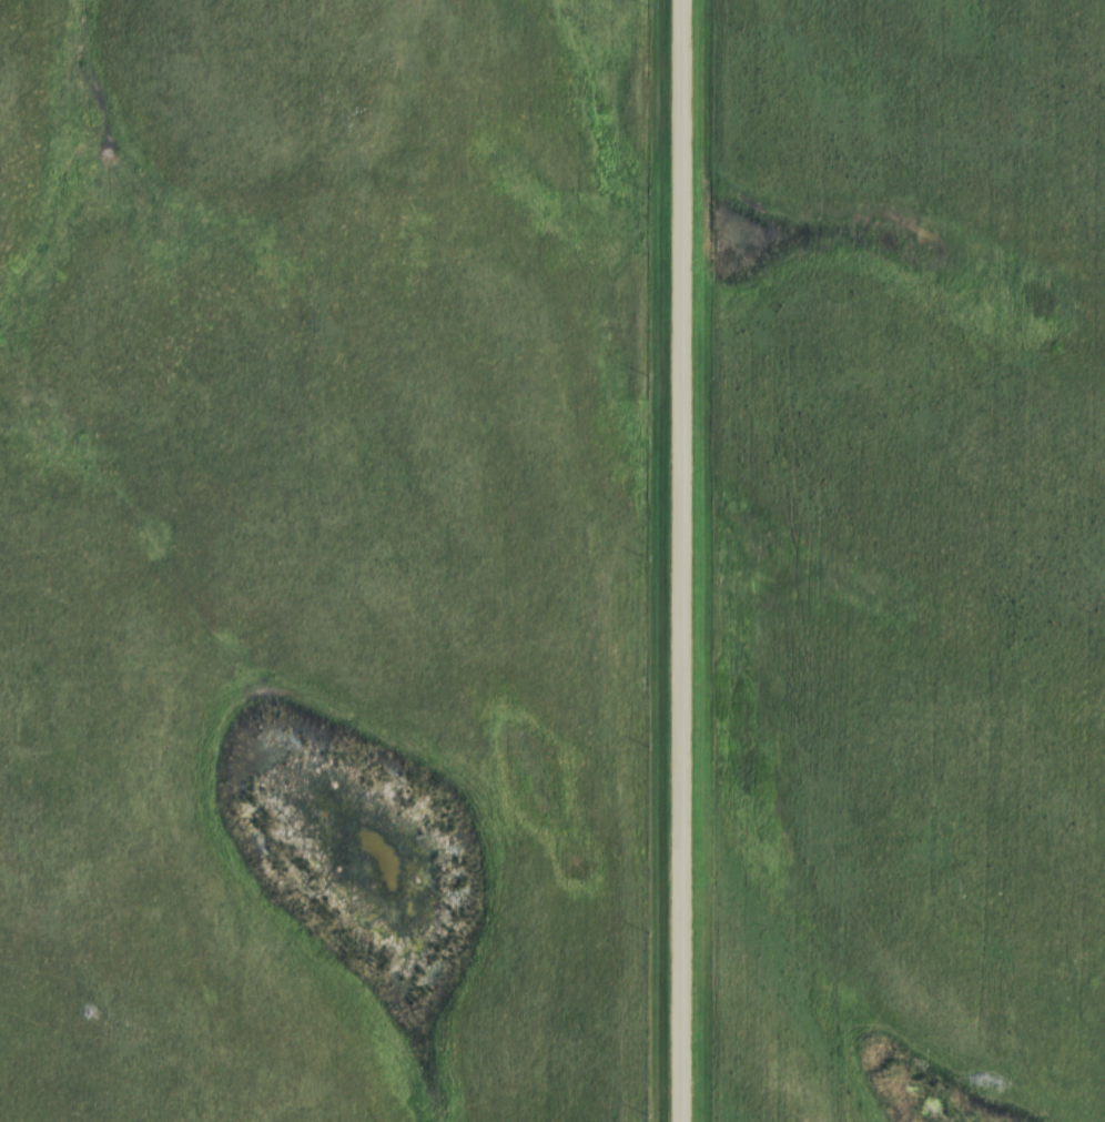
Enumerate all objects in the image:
road: (693, 560)

